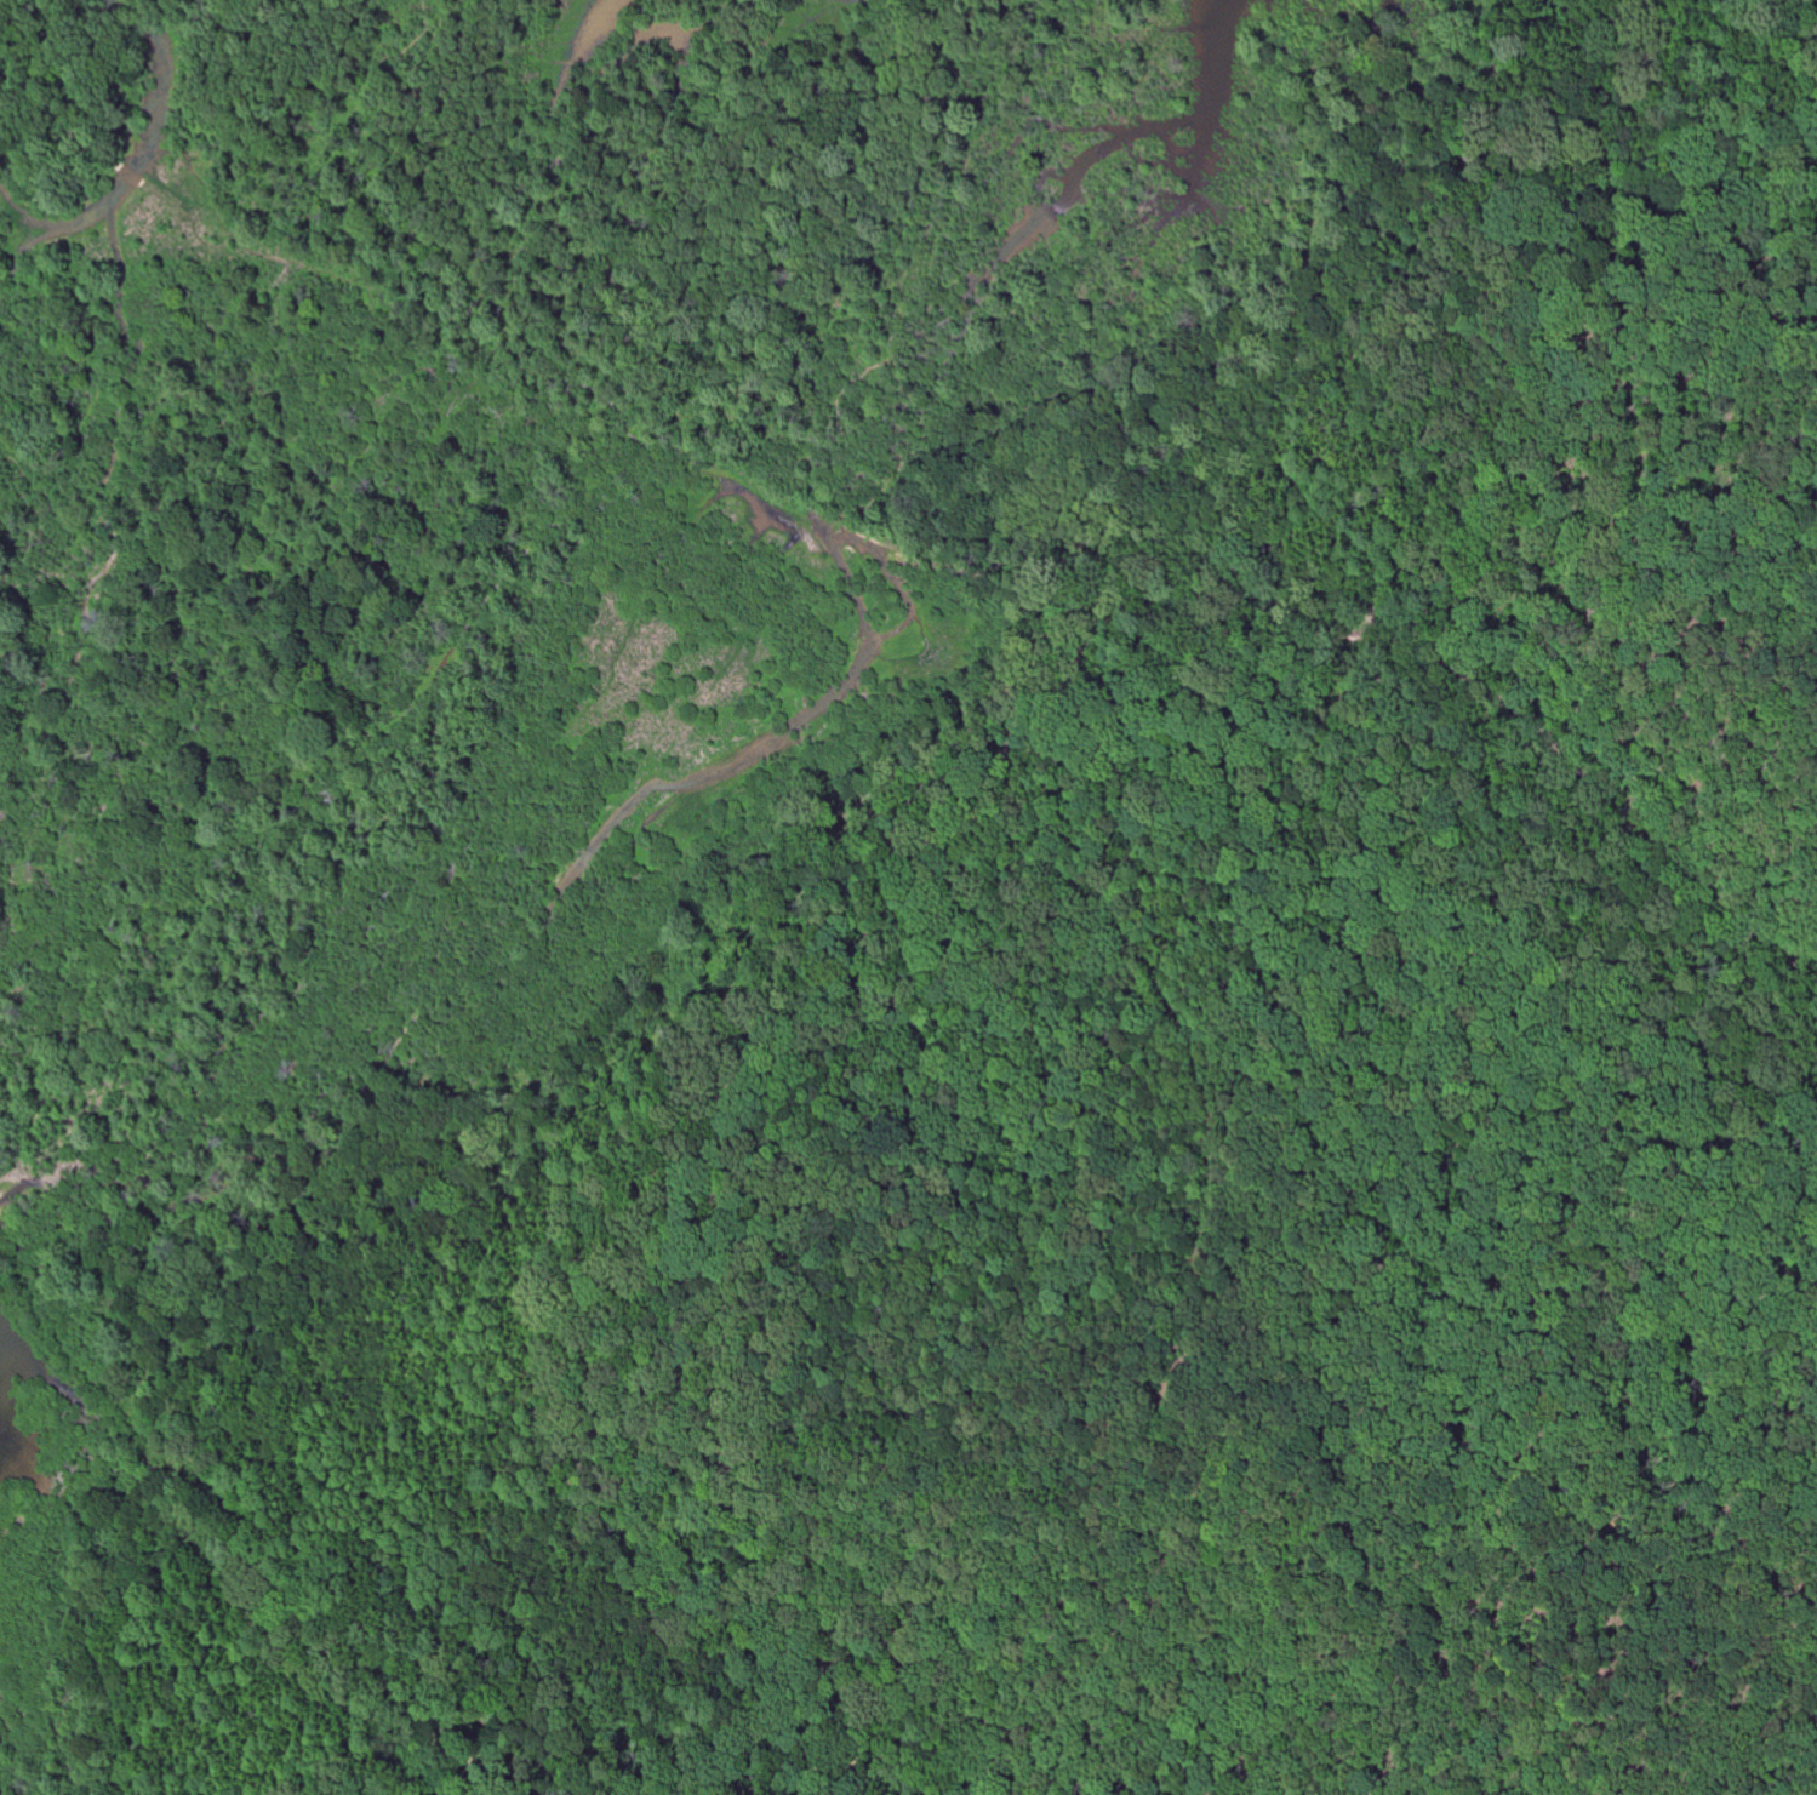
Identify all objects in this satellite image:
river: (156, 158)
road: (1344, 585)

